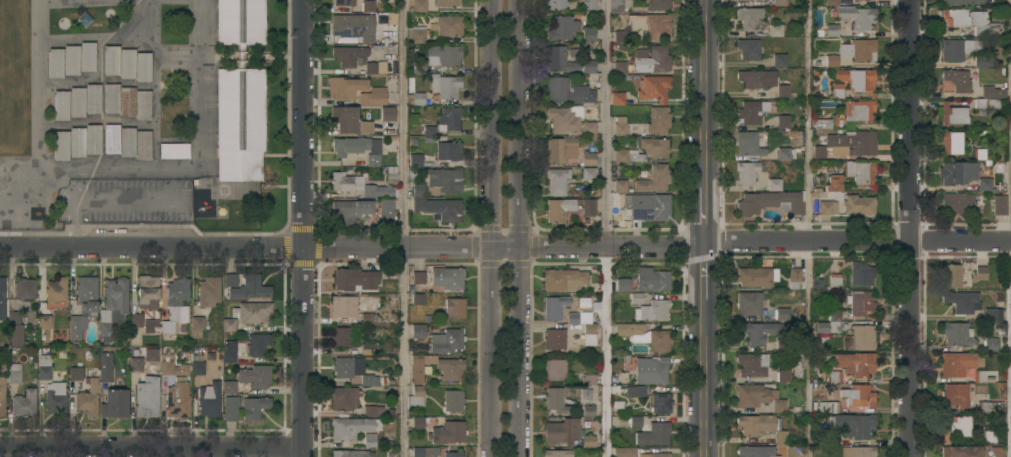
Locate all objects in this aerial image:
building: (746, 0)
building: (963, 1)
building: (344, 2)
building: (447, 2)
building: (779, 2)
building: (831, 2)
building: (556, 4)
building: (588, 4)
building: (658, 4)
building: (367, 5)
building: (416, 5)
building: (616, 6)
building: (748, 16)
building: (857, 16)
building: (969, 21)
building: (447, 25)
building: (655, 25)
building: (353, 26)
building: (562, 28)
building: (775, 30)
building: (831, 30)
building: (588, 34)
building: (416, 36)
building: (620, 36)
building: (748, 48)
building: (859, 49)
building: (955, 49)
building: (444, 54)
building: (348, 55)
building: (87, 56)
building: (560, 59)
building: (651, 59)
building: (71, 60)
building: (111, 60)
building: (779, 60)
building: (831, 60)
building: (983, 60)
building: (55, 63)
building: (127, 63)
building: (589, 66)
building: (620, 66)
building: (143, 67)
building: (373, 67)
building: (420, 67)
building: (752, 78)
building: (856, 78)
building: (957, 79)
building: (345, 87)
building: (446, 87)
building: (653, 88)
building: (583, 90)
building: (837, 90)
building: (783, 91)
building: (991, 92)
building: (240, 93)
road: (705, 95)
building: (373, 96)
building: (617, 97)
building: (93, 98)
building: (111, 98)
building: (415, 98)
building: (127, 101)
building: (77, 102)
building: (143, 104)
building: (61, 105)
building: (859, 110)
building: (751, 112)
building: (388, 114)
building: (953, 114)
building: (346, 118)
building: (449, 118)
building: (565, 118)
building: (658, 120)
building: (783, 121)
building: (825, 122)
building: (620, 126)
building: (366, 127)
building: (588, 128)
building: (429, 132)
building: (111, 138)
building: (93, 139)
building: (127, 141)
building: (77, 142)
building: (854, 142)
building: (951, 142)
building: (748, 143)
building: (61, 145)
building: (143, 145)
building: (358, 148)
building: (560, 148)
building: (449, 150)
building: (656, 150)
building: (174, 151)
building: (818, 151)
building: (783, 153)
building: (979, 153)
building: (415, 159)
building: (588, 166)
building: (859, 171)
building: (747, 172)
building: (958, 173)
building: (392, 174)
building: (654, 178)
building: (445, 179)
building: (557, 180)
building: (774, 184)
building: (833, 184)
building: (985, 184)
building: (359, 185)
building: (620, 185)
building: (770, 202)
building: (957, 202)
building: (999, 204)
building: (436, 205)
building: (859, 205)
building: (588, 206)
building: (649, 207)
building: (825, 207)
building: (558, 209)
building: (386, 210)
building: (351, 211)
road: (705, 217)
road: (306, 228)
road: (406, 228)
road: (493, 228)
road: (513, 228)
road: (604, 228)
road: (809, 228)
road: (910, 228)
road: (505, 248)
road: (705, 272)
building: (861, 273)
building: (979, 273)
building: (950, 275)
building: (755, 276)
building: (418, 277)
building: (446, 277)
building: (796, 278)
building: (835, 278)
building: (230, 279)
building: (355, 279)
building: (564, 279)
building: (652, 279)
building: (623, 285)
building: (250, 287)
building: (25, 288)
building: (56, 290)
building: (148, 291)
building: (209, 291)
building: (416, 296)
building: (2, 298)
building: (636, 298)
building: (962, 301)
building: (860, 302)
building: (750, 303)
building: (83, 305)
building: (113, 306)
building: (170, 306)
building: (343, 307)
building: (555, 307)
building: (455, 308)
building: (652, 310)
building: (252, 311)
building: (782, 313)
building: (183, 314)
building: (992, 314)
building: (367, 318)
building: (136, 320)
building: (43, 322)
building: (197, 322)
building: (229, 324)
building: (584, 325)
building: (828, 326)
building: (14, 329)
building: (418, 331)
building: (756, 332)
building: (958, 333)
building: (645, 335)
building: (344, 336)
building: (861, 337)
building: (554, 339)
building: (447, 340)
building: (258, 344)
building: (991, 344)
building: (781, 345)
building: (367, 348)
building: (229, 351)
building: (152, 354)
building: (756, 363)
building: (855, 363)
building: (956, 363)
building: (136, 364)
building: (43, 366)
building: (105, 366)
building: (173, 366)
building: (198, 367)
building: (436, 367)
building: (554, 369)
building: (651, 369)
building: (353, 370)
building: (75, 373)
building: (783, 375)
building: (255, 376)
building: (835, 376)
building: (980, 376)
building: (588, 379)
road: (705, 379)
building: (9, 382)
building: (229, 387)
building: (635, 391)
building: (858, 395)
building: (955, 395)
building: (147, 396)
building: (416, 396)
building: (55, 397)
building: (758, 397)
building: (88, 398)
building: (344, 398)
building: (178, 400)
building: (209, 400)
building: (452, 400)
building: (555, 400)
building: (24, 403)
building: (114, 403)
building: (660, 403)
building: (617, 404)
building: (829, 406)
building: (254, 407)
building: (983, 407)
building: (230, 408)
building: (373, 410)
building: (588, 411)
building: (417, 421)
building: (635, 421)
building: (756, 423)
building: (853, 425)
building: (955, 426)
building: (353, 427)
building: (562, 430)
building: (448, 432)
building: (658, 432)
building: (781, 436)
building: (990, 436)
building: (832, 438)
building: (370, 440)
building: (588, 440)
road: (152, 448)
building: (425, 451)
building: (756, 451)
building: (858, 451)
building: (961, 451)
building: (625, 452)
building: (350, 453)
building: (558, 453)
building: (453, 454)
building: (655, 454)

